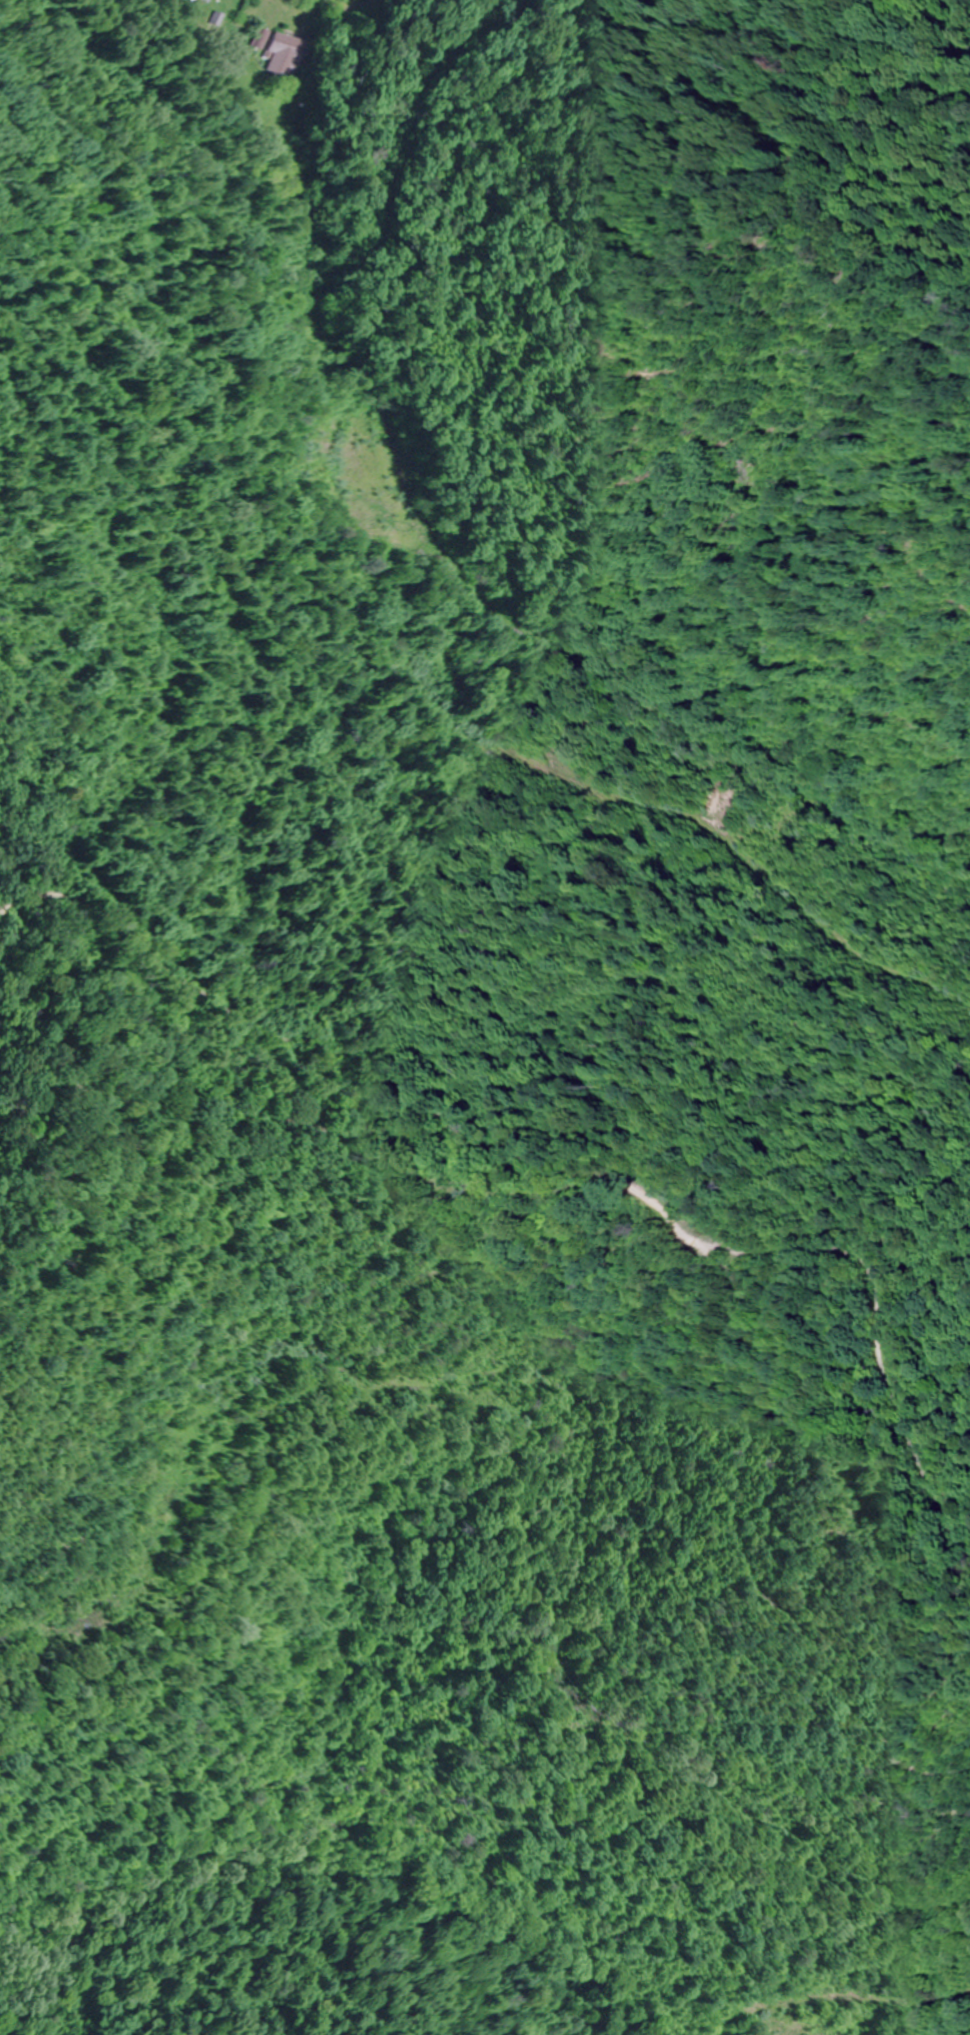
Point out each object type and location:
building: (204, 2)
building: (285, 55)
road: (551, 1183)

